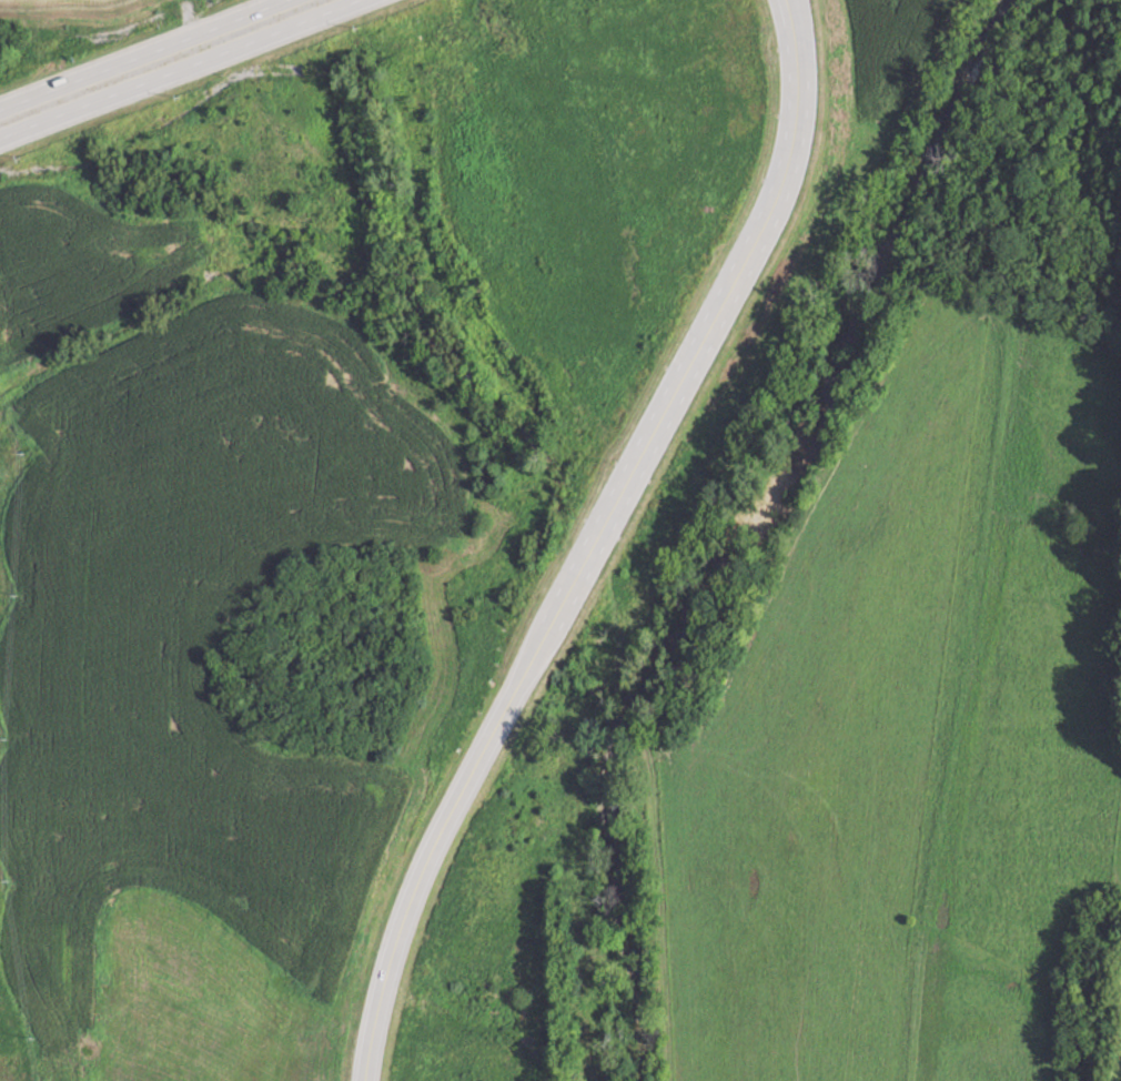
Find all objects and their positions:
road: (138, 52)
road: (179, 69)
road: (584, 538)

